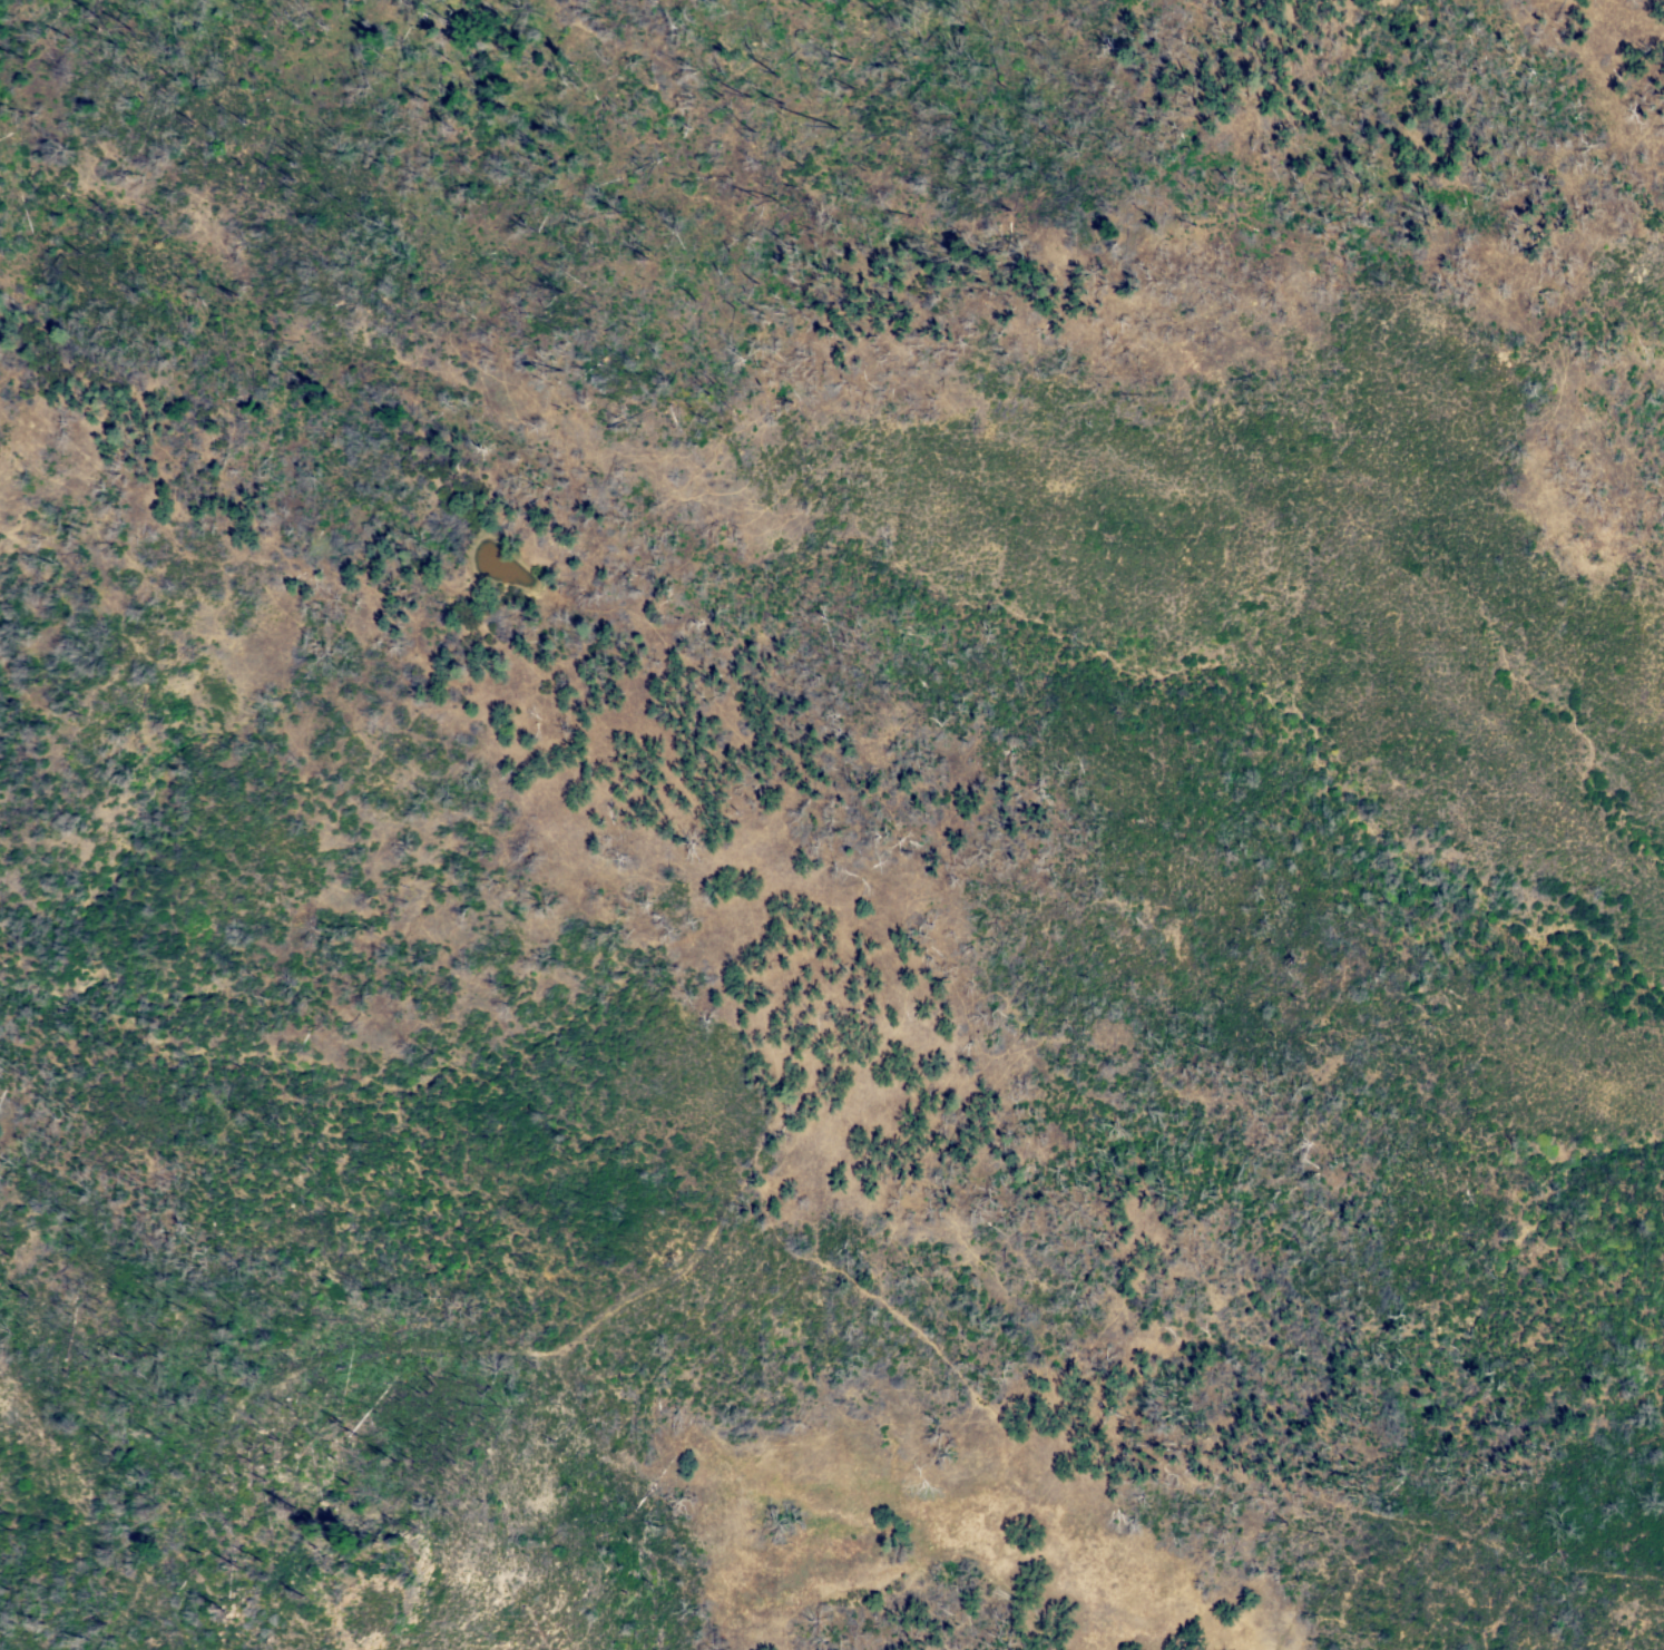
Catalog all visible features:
road: (829, 1231)

